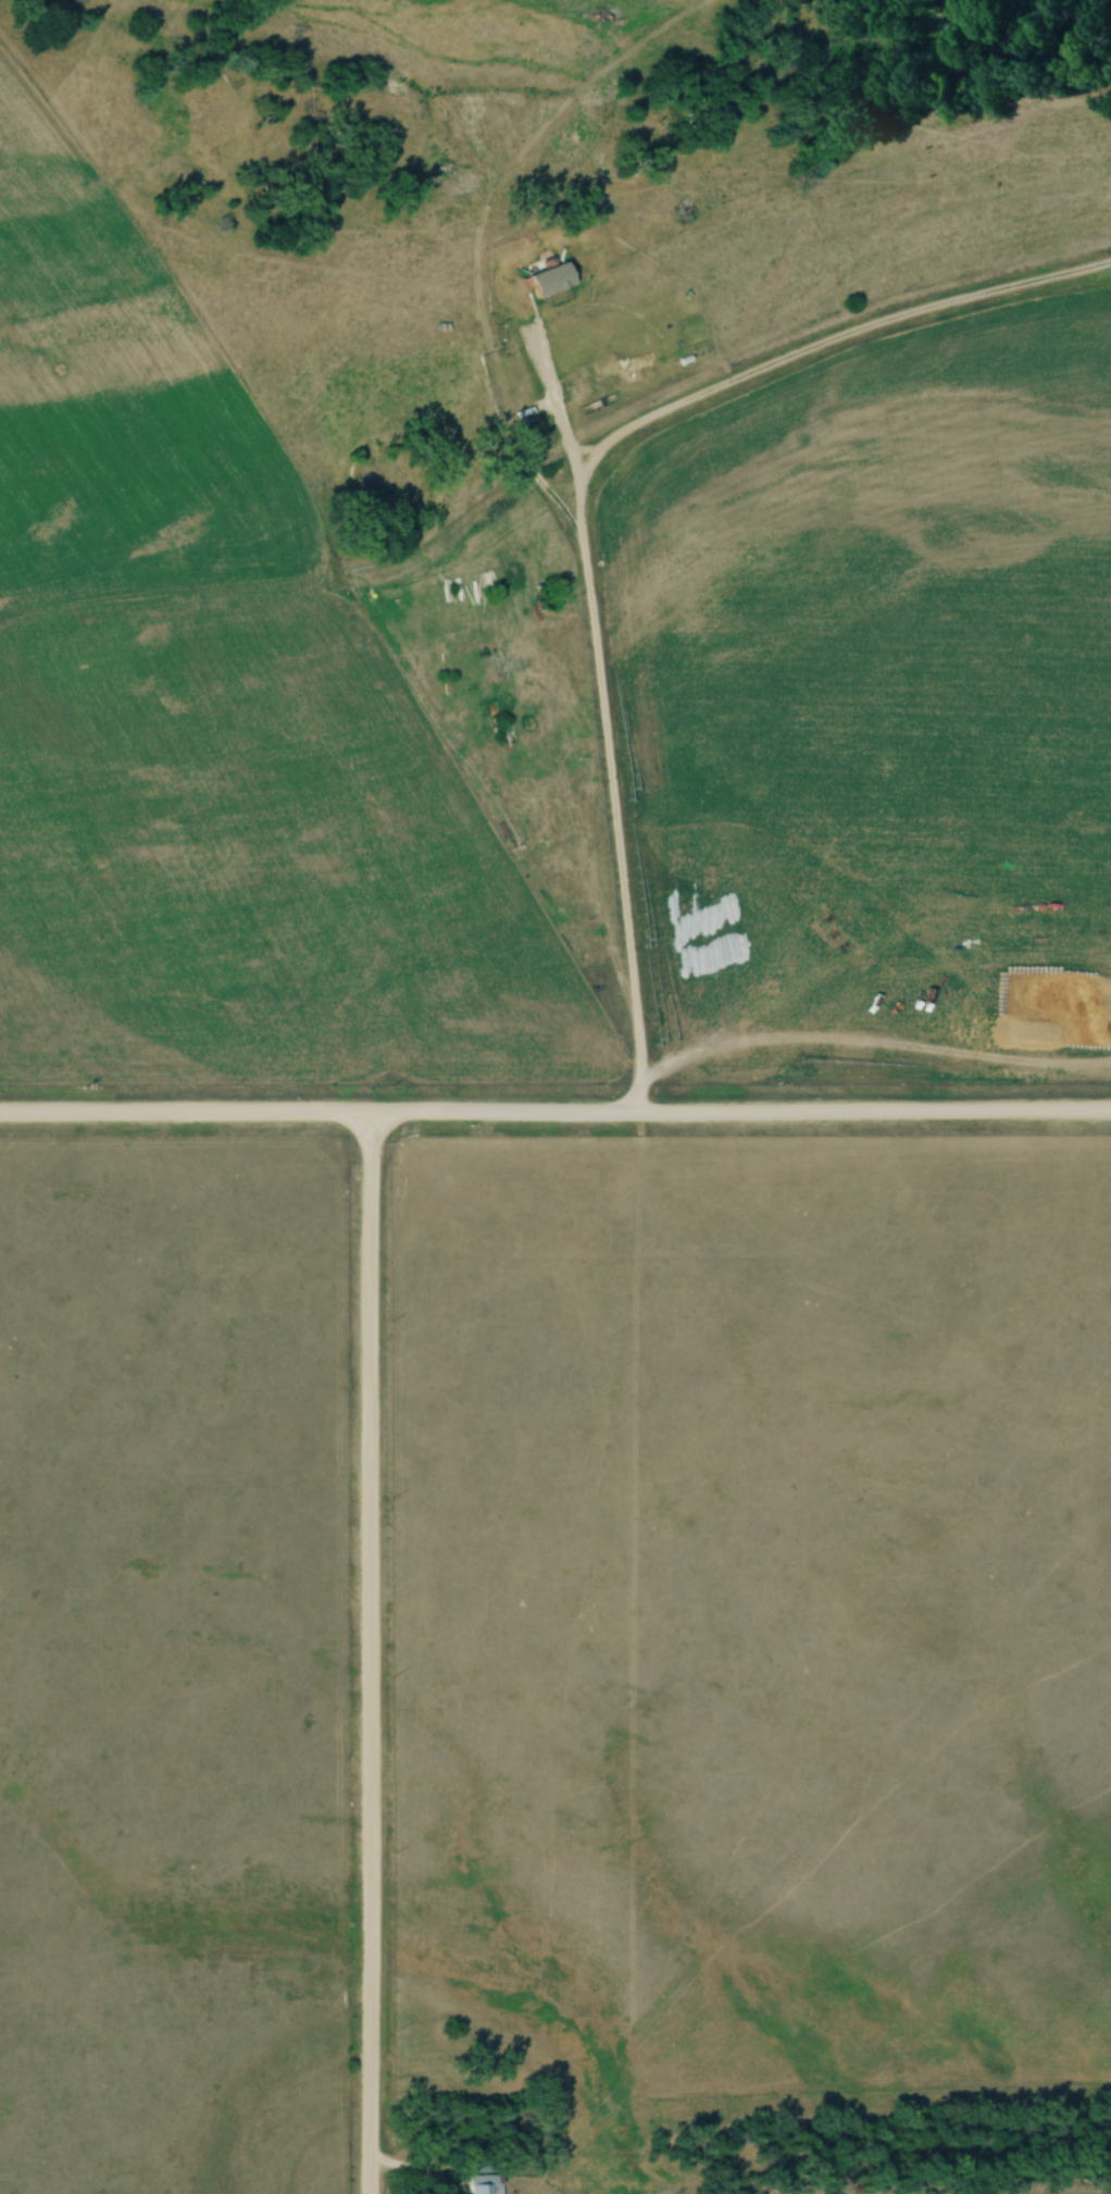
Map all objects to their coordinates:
road: (801, 354)
building: (622, 365)
road: (599, 726)
road: (555, 1116)
road: (366, 1654)
road: (410, 2172)
building: (483, 2180)

